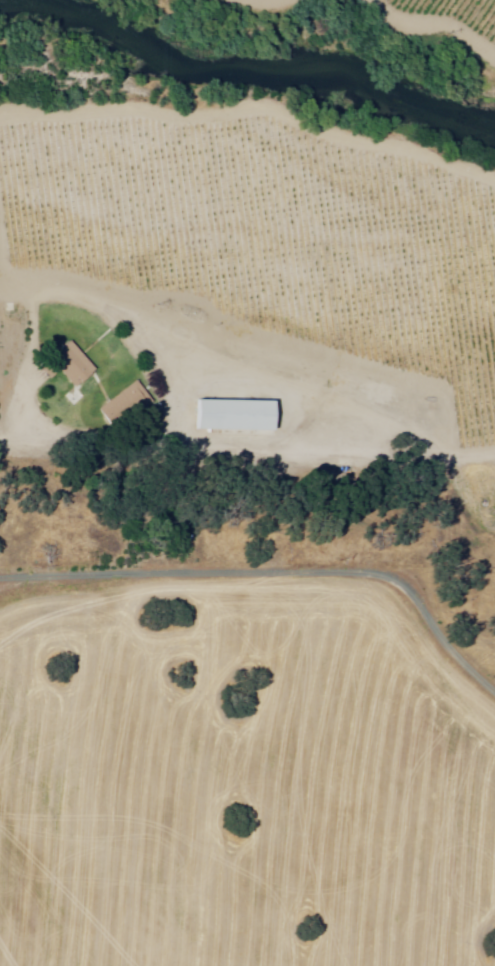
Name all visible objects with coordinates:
crop: (459, 16)
crop: (268, 234)
building: (70, 364)
road: (246, 398)
building: (123, 405)
building: (233, 416)
crop: (237, 780)

